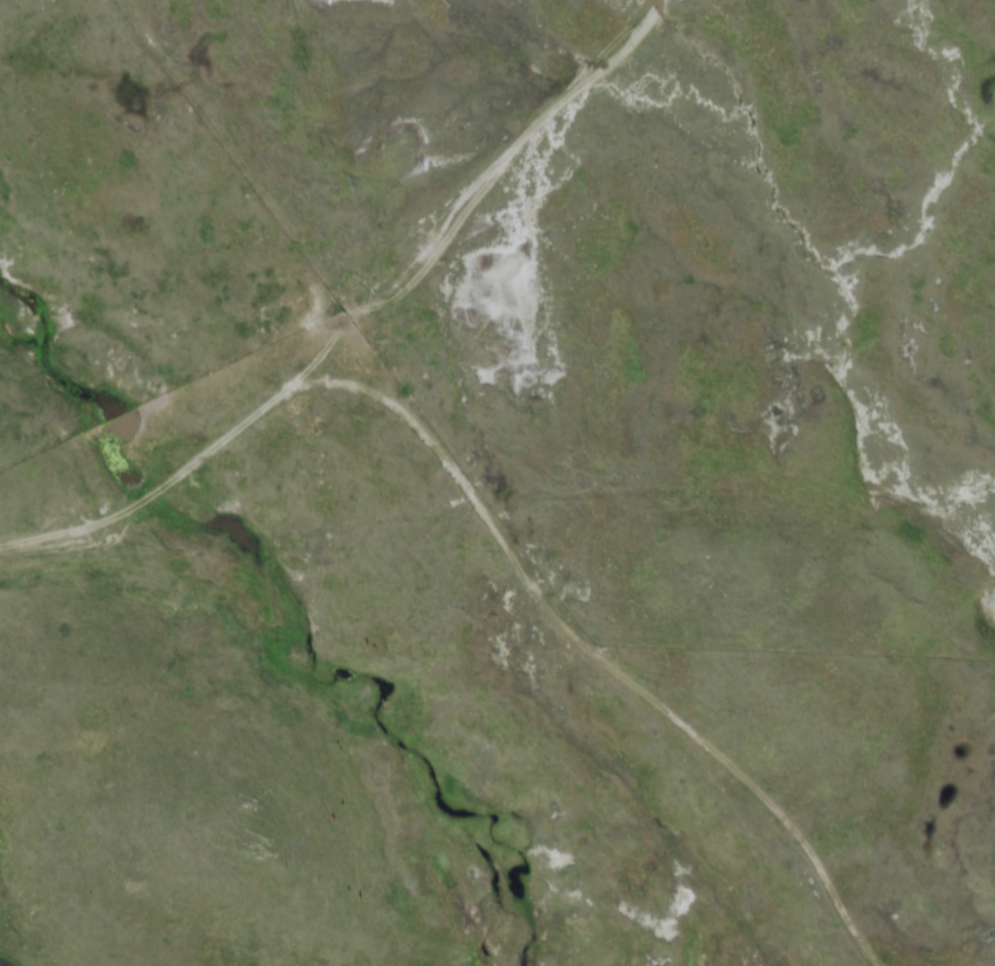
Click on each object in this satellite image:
road: (13, 958)

